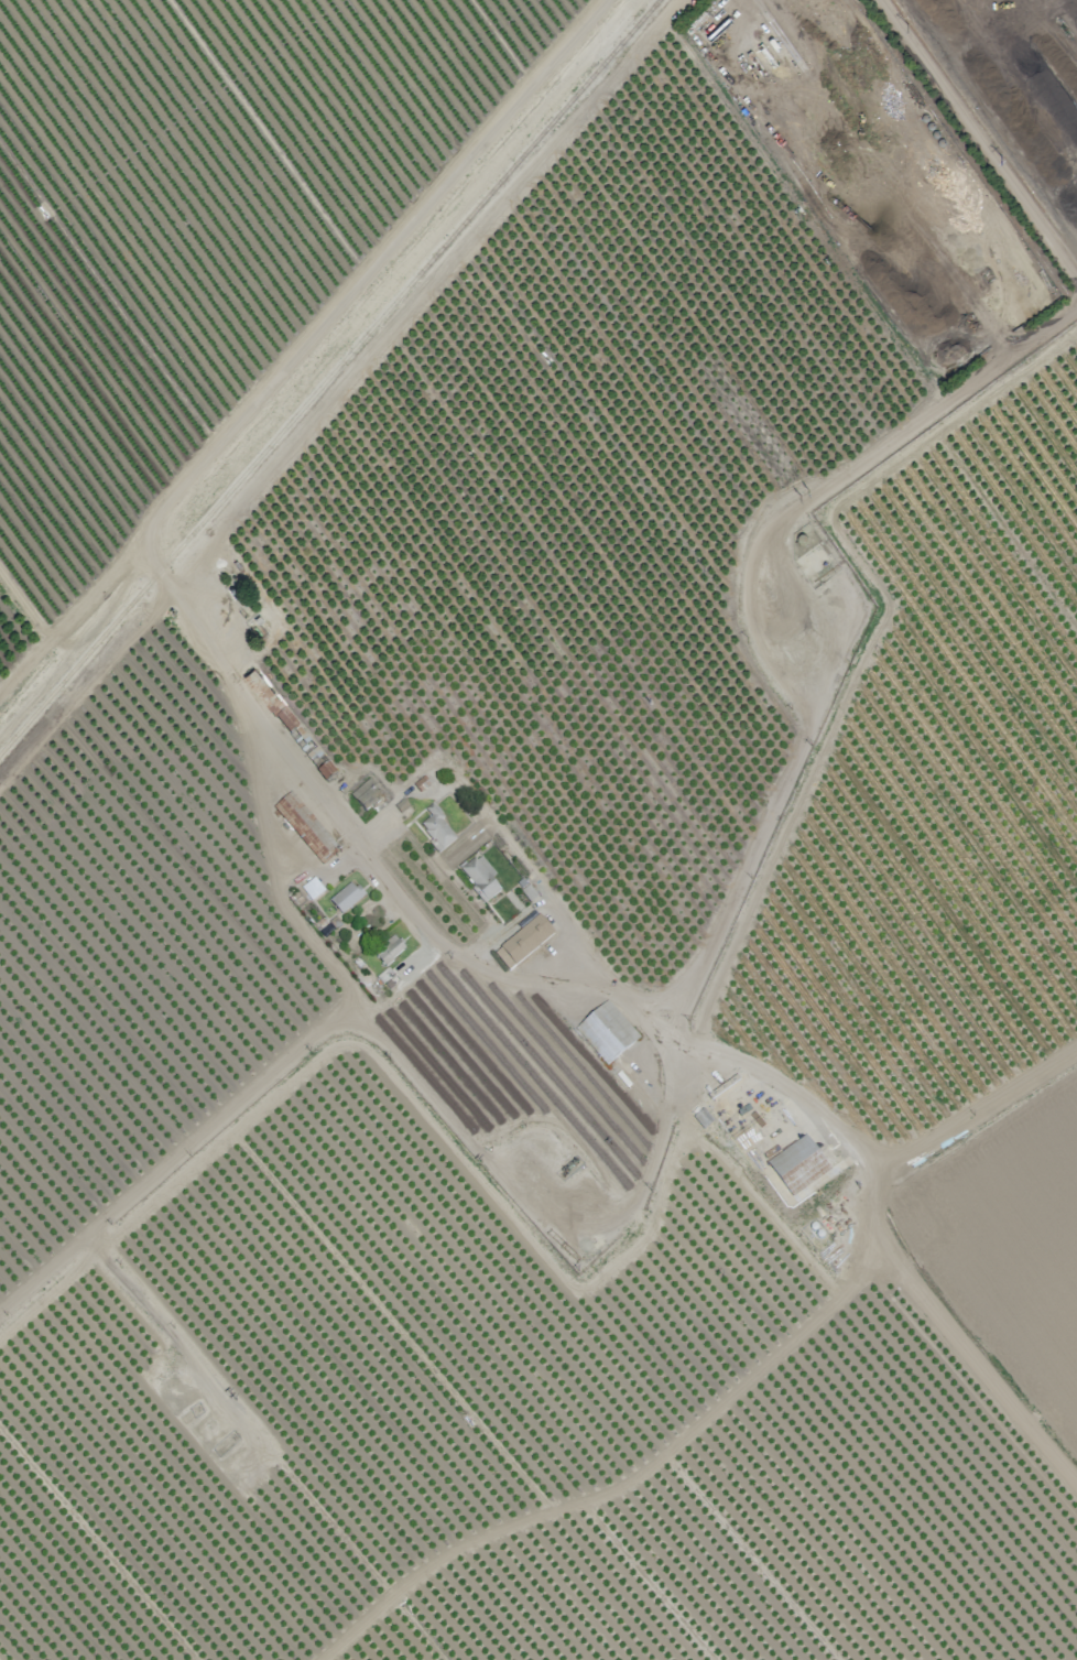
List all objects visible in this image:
railway: (328, 376)
road: (783, 677)
building: (270, 701)
building: (366, 794)
building: (305, 827)
building: (436, 829)
building: (480, 877)
building: (312, 888)
building: (346, 897)
road: (421, 924)
building: (523, 943)
building: (389, 951)
building: (607, 1032)
building: (798, 1165)
road: (881, 1240)

